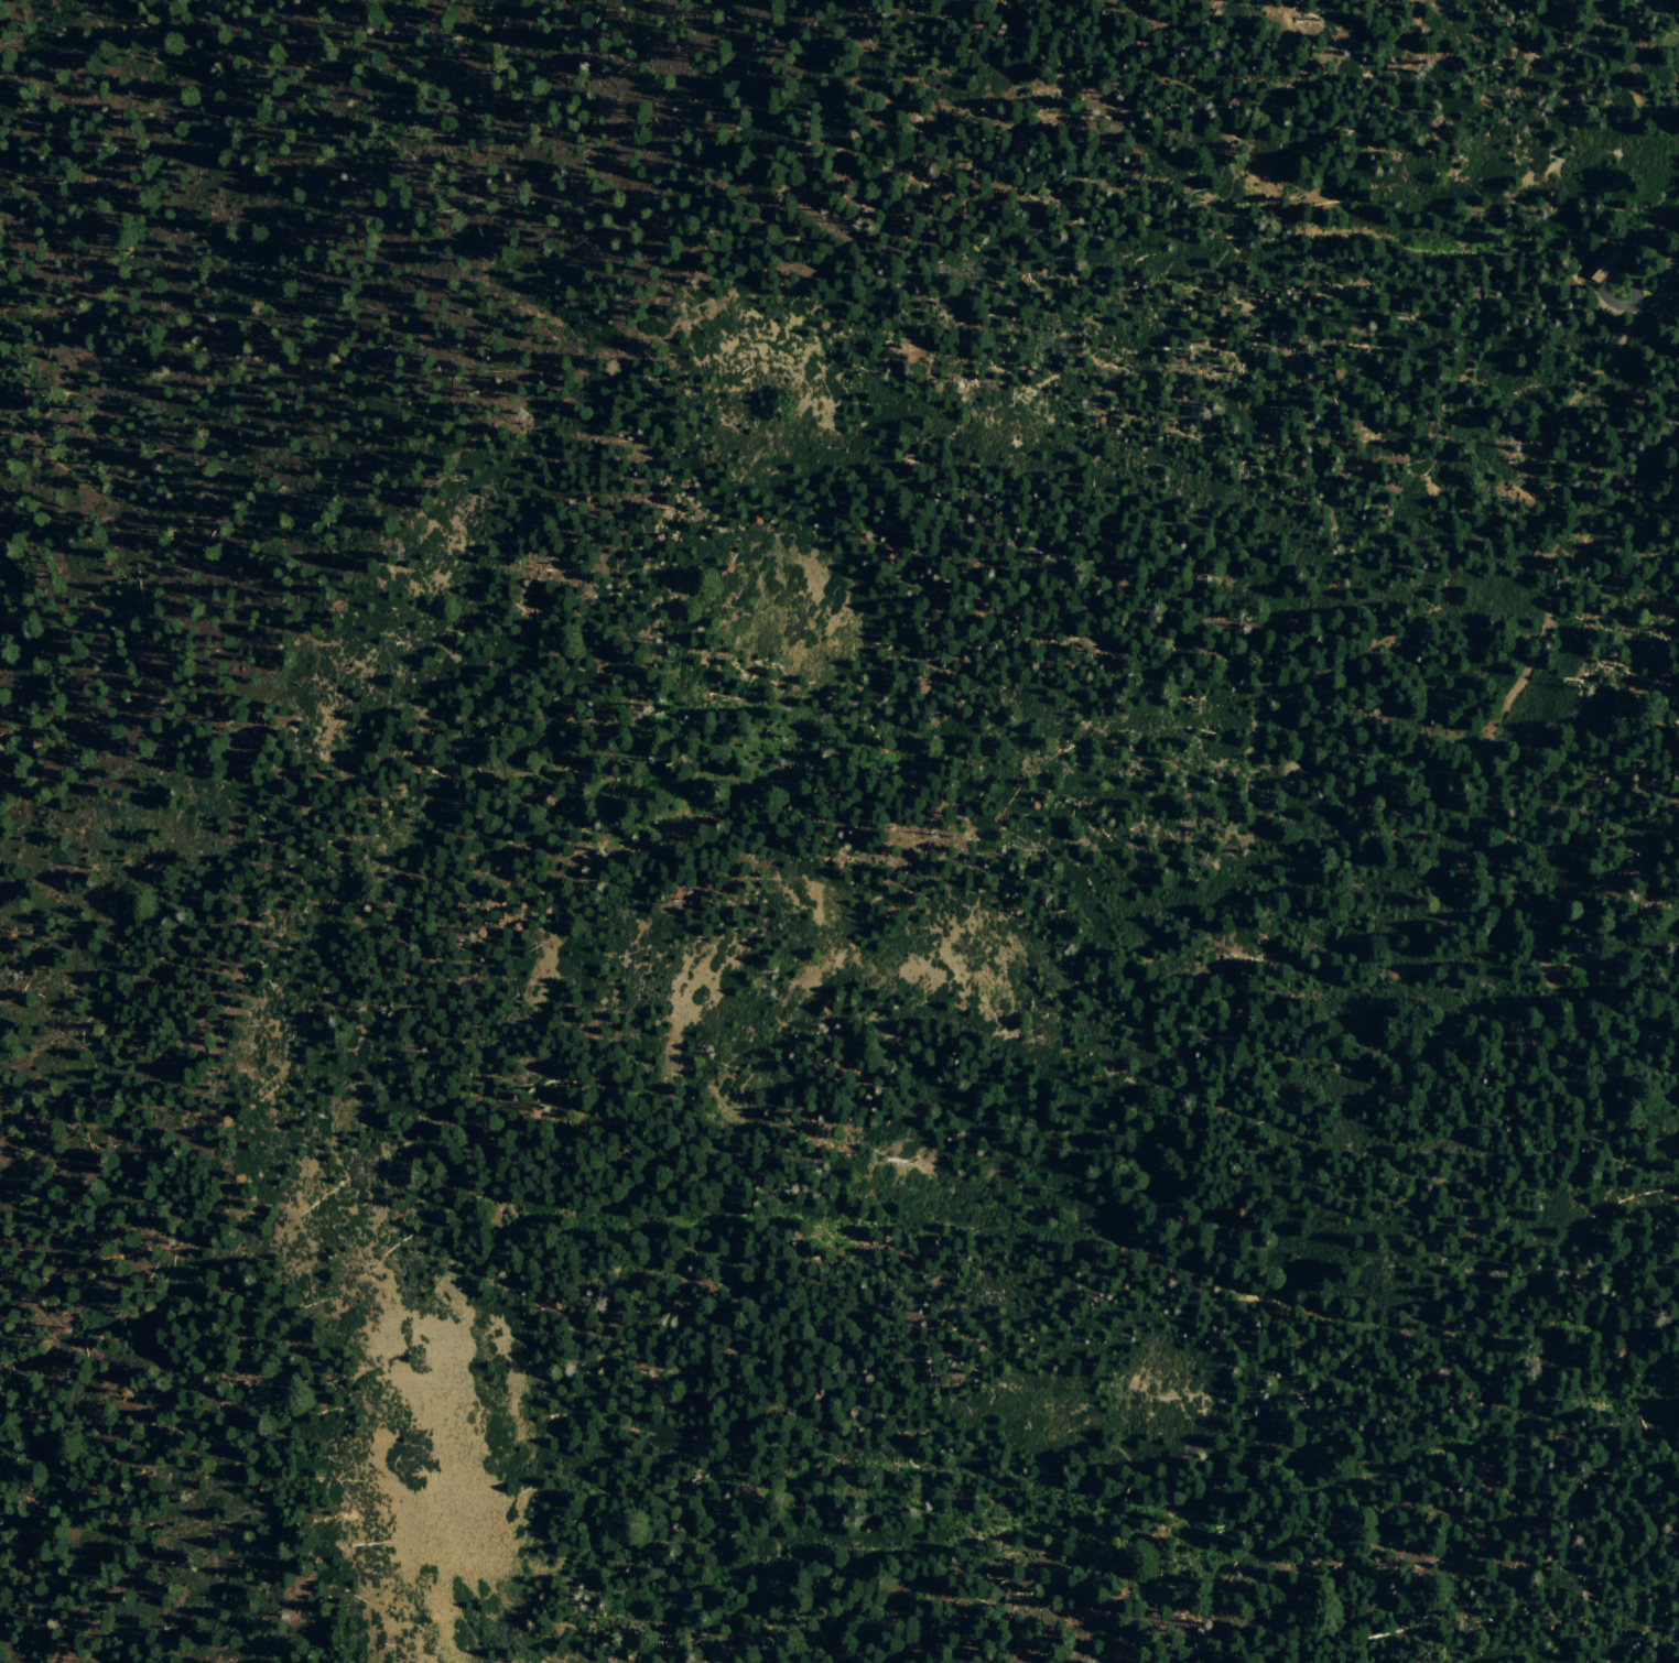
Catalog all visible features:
building: (1595, 268)
road: (1661, 275)
road: (1551, 634)

